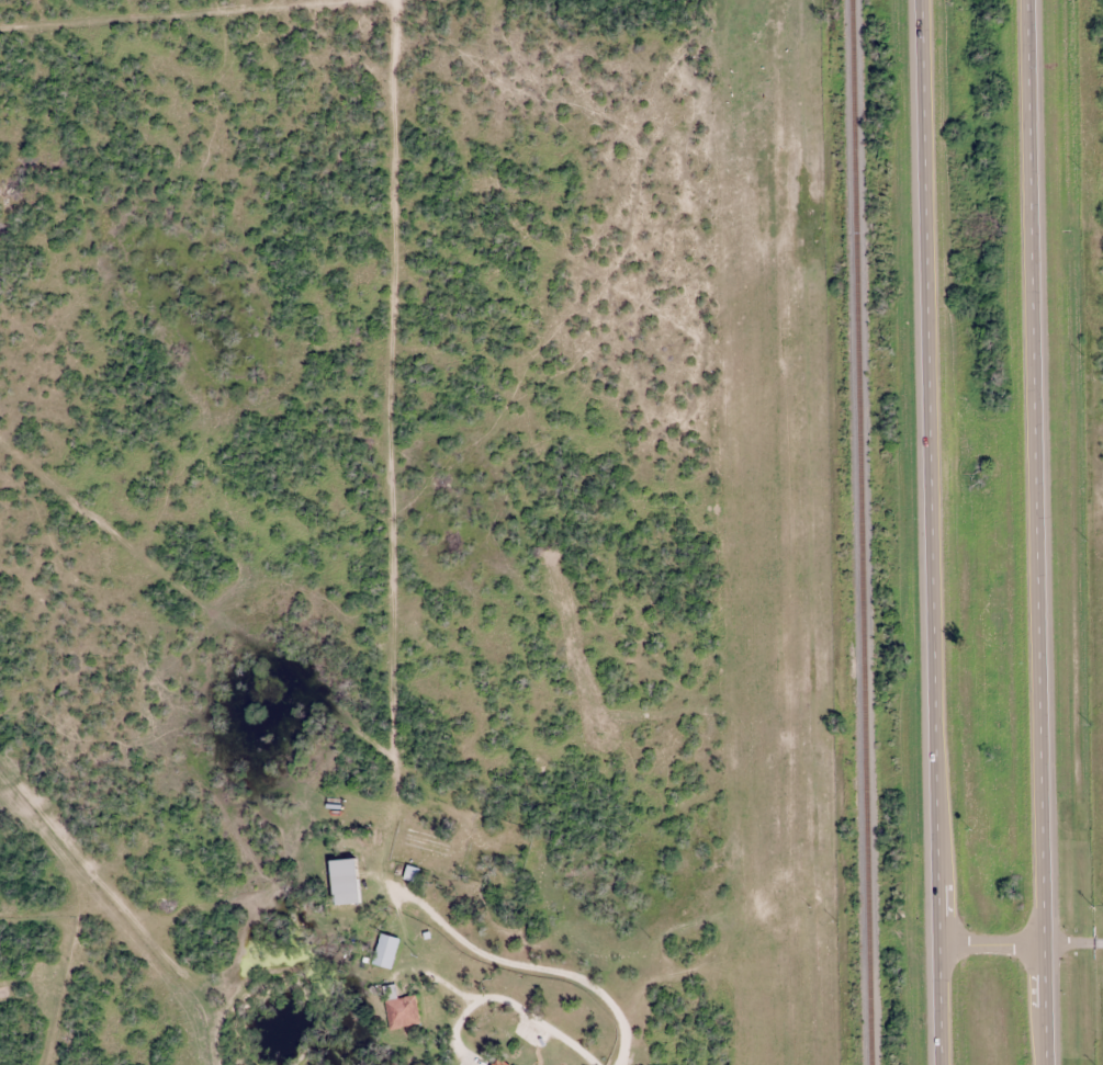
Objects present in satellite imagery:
railway: (864, 532)
road: (933, 532)
road: (1039, 532)
building: (339, 884)
road: (1022, 948)
building: (381, 953)
road: (532, 967)
building: (396, 1012)
building: (493, 1063)

